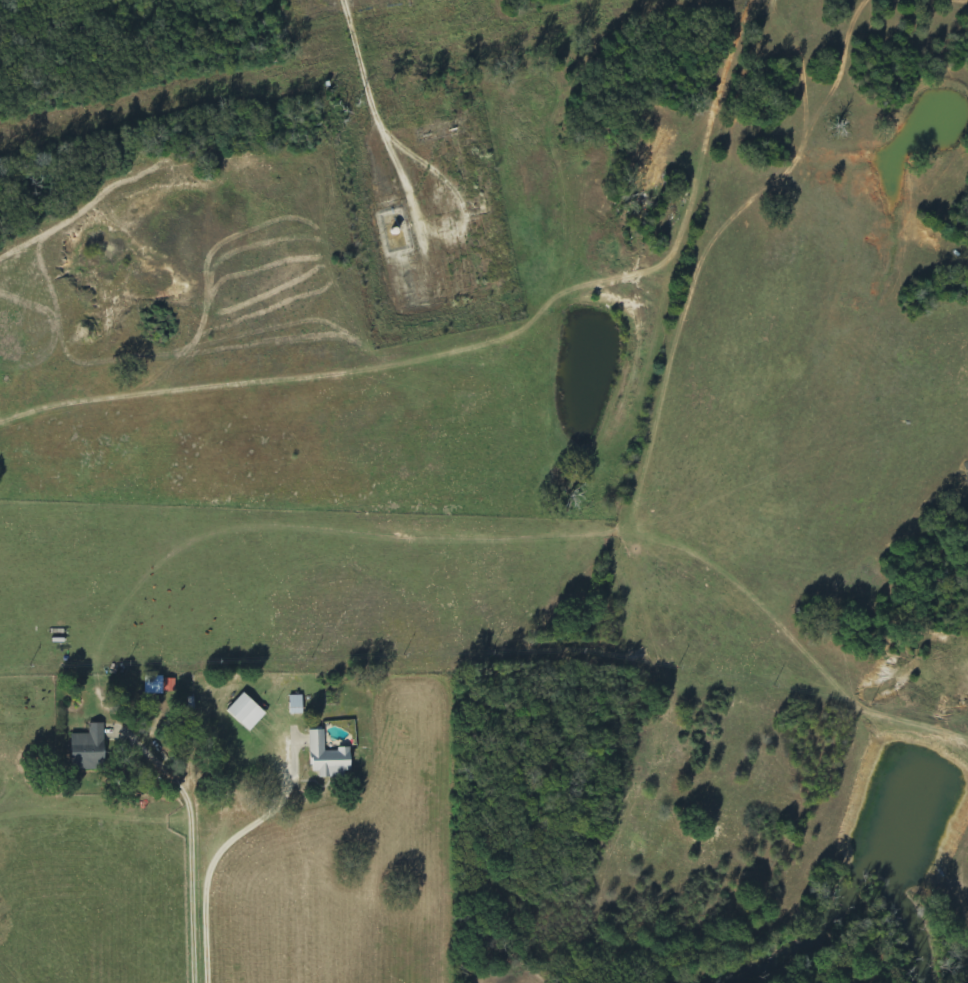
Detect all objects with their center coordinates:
road: (361, 64)
building: (154, 685)
building: (296, 705)
building: (246, 713)
building: (89, 749)
building: (328, 758)

